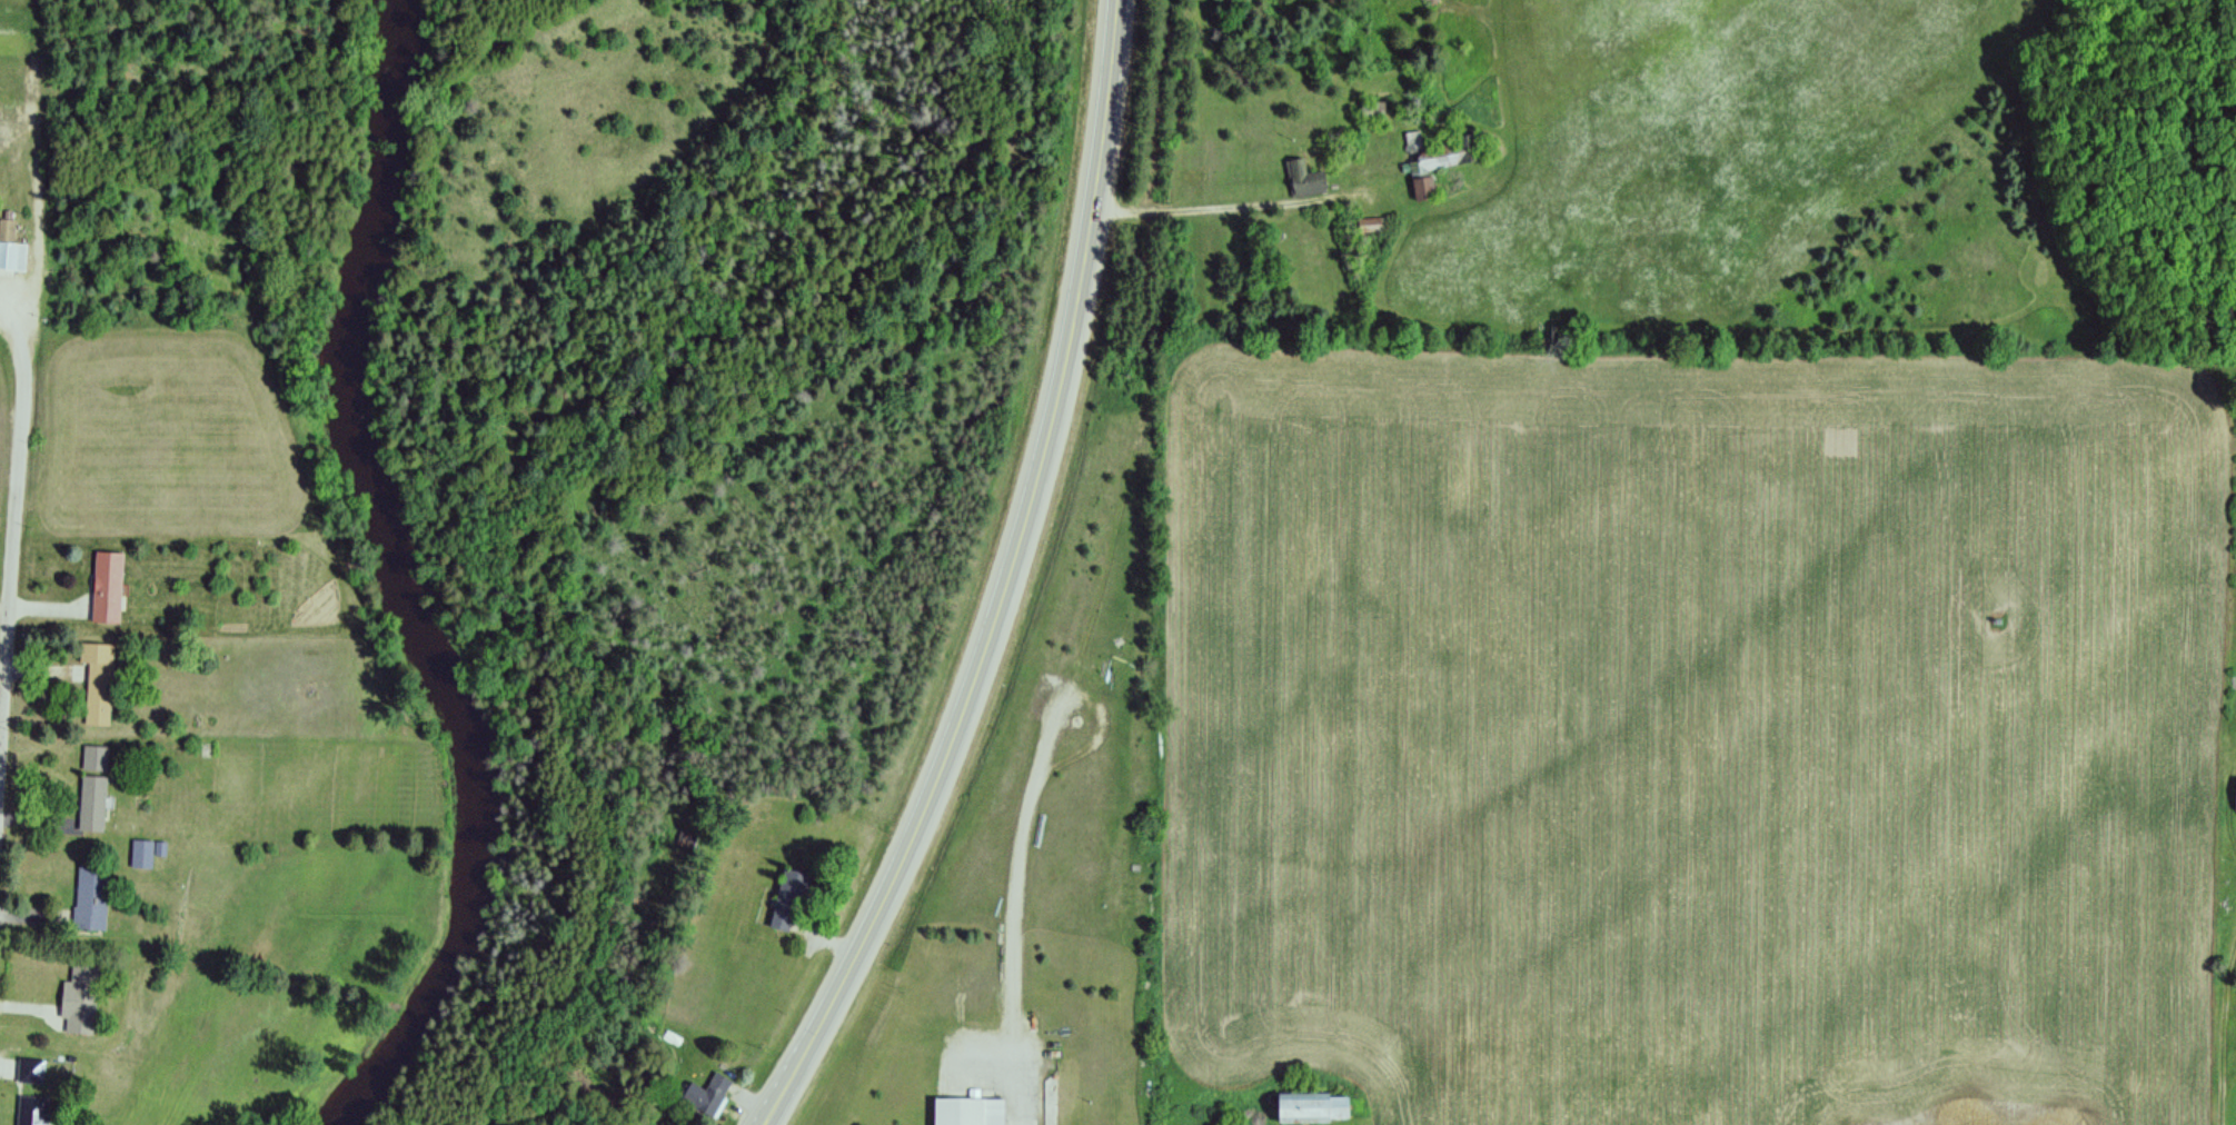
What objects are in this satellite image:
building: (1369, 110)
building: (1435, 149)
building: (1298, 177)
building: (1419, 187)
road: (1241, 208)
building: (11, 250)
road: (13, 321)
road: (12, 576)
road: (1000, 584)
river: (427, 586)
building: (107, 588)
road: (47, 607)
road: (41, 671)
building: (97, 683)
road: (1083, 697)
road: (3, 704)
building: (95, 759)
building: (2235, 797)
building: (91, 804)
road: (33, 823)
building: (146, 853)
building: (786, 895)
building: (88, 897)
road: (1006, 955)
building: (78, 1000)
road: (27, 1012)
road: (2225, 1023)
building: (31, 1072)
road: (7, 1073)
building: (704, 1092)
building: (1308, 1105)
building: (30, 1111)
building: (967, 1111)

